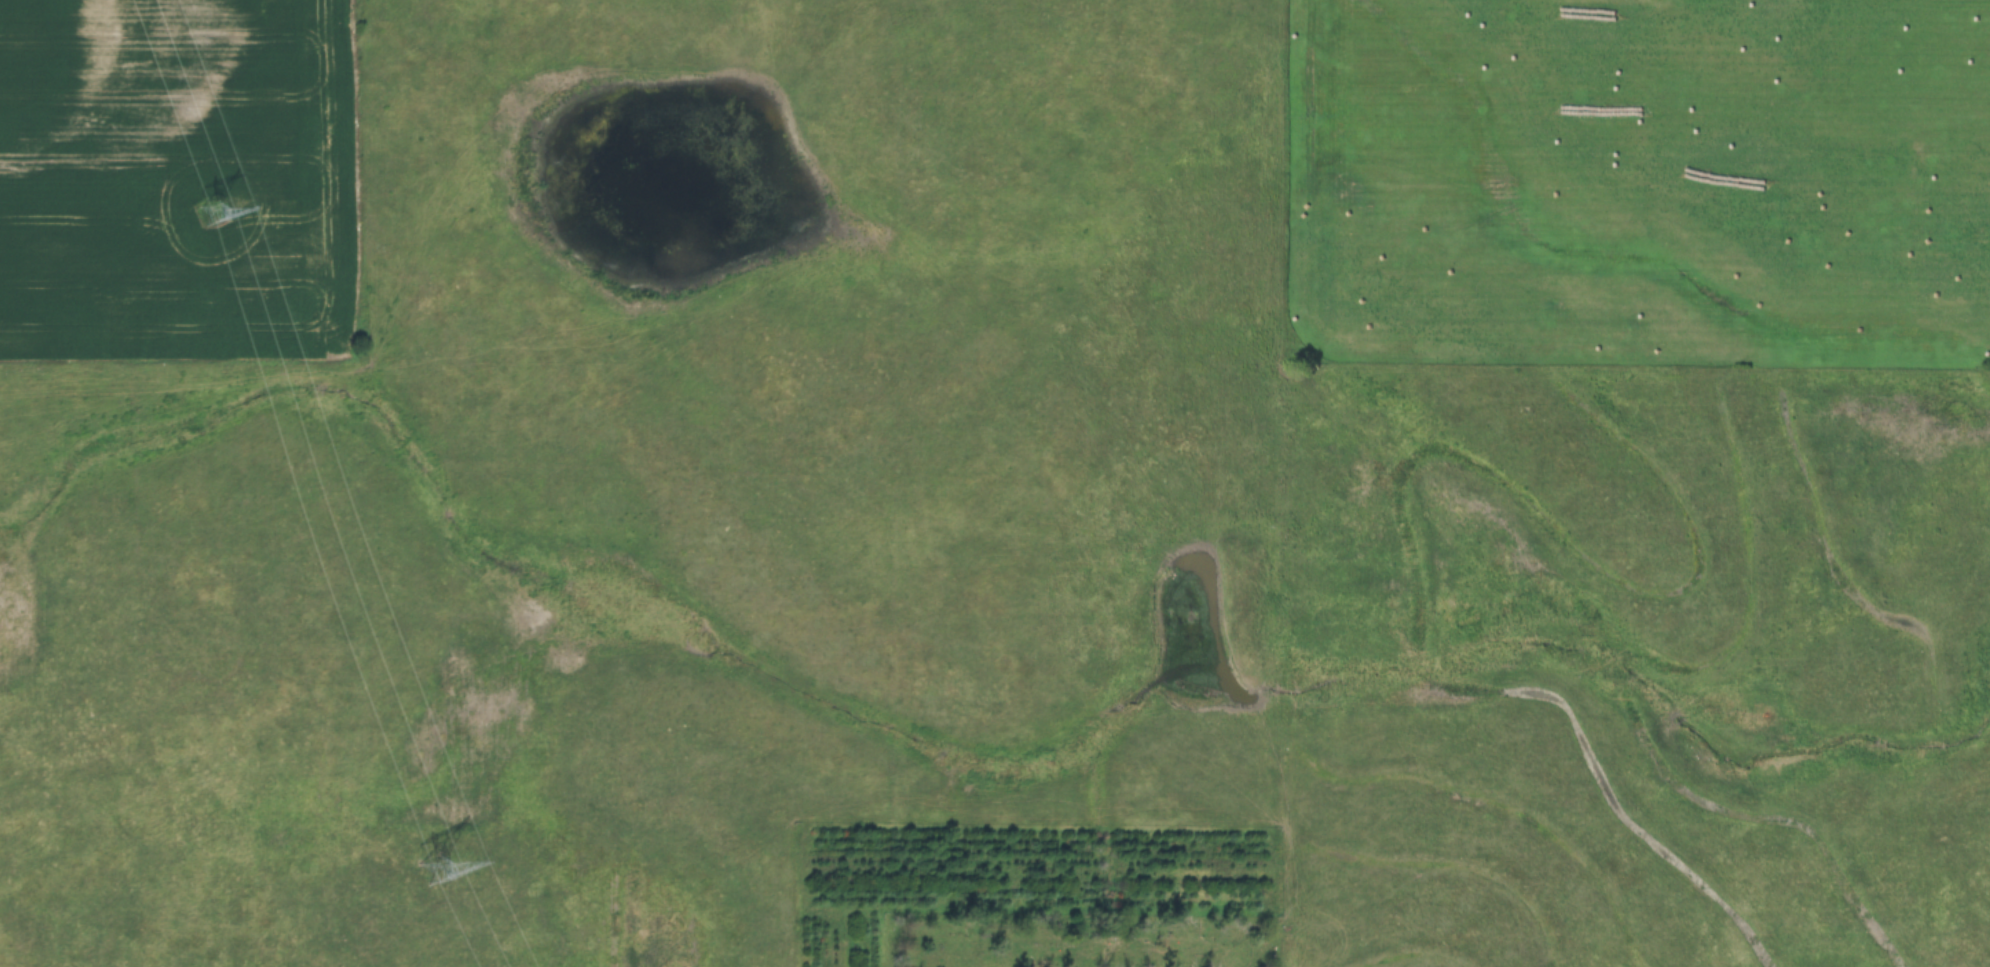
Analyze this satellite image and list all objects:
power tower: (207, 198)
power tower: (437, 868)

